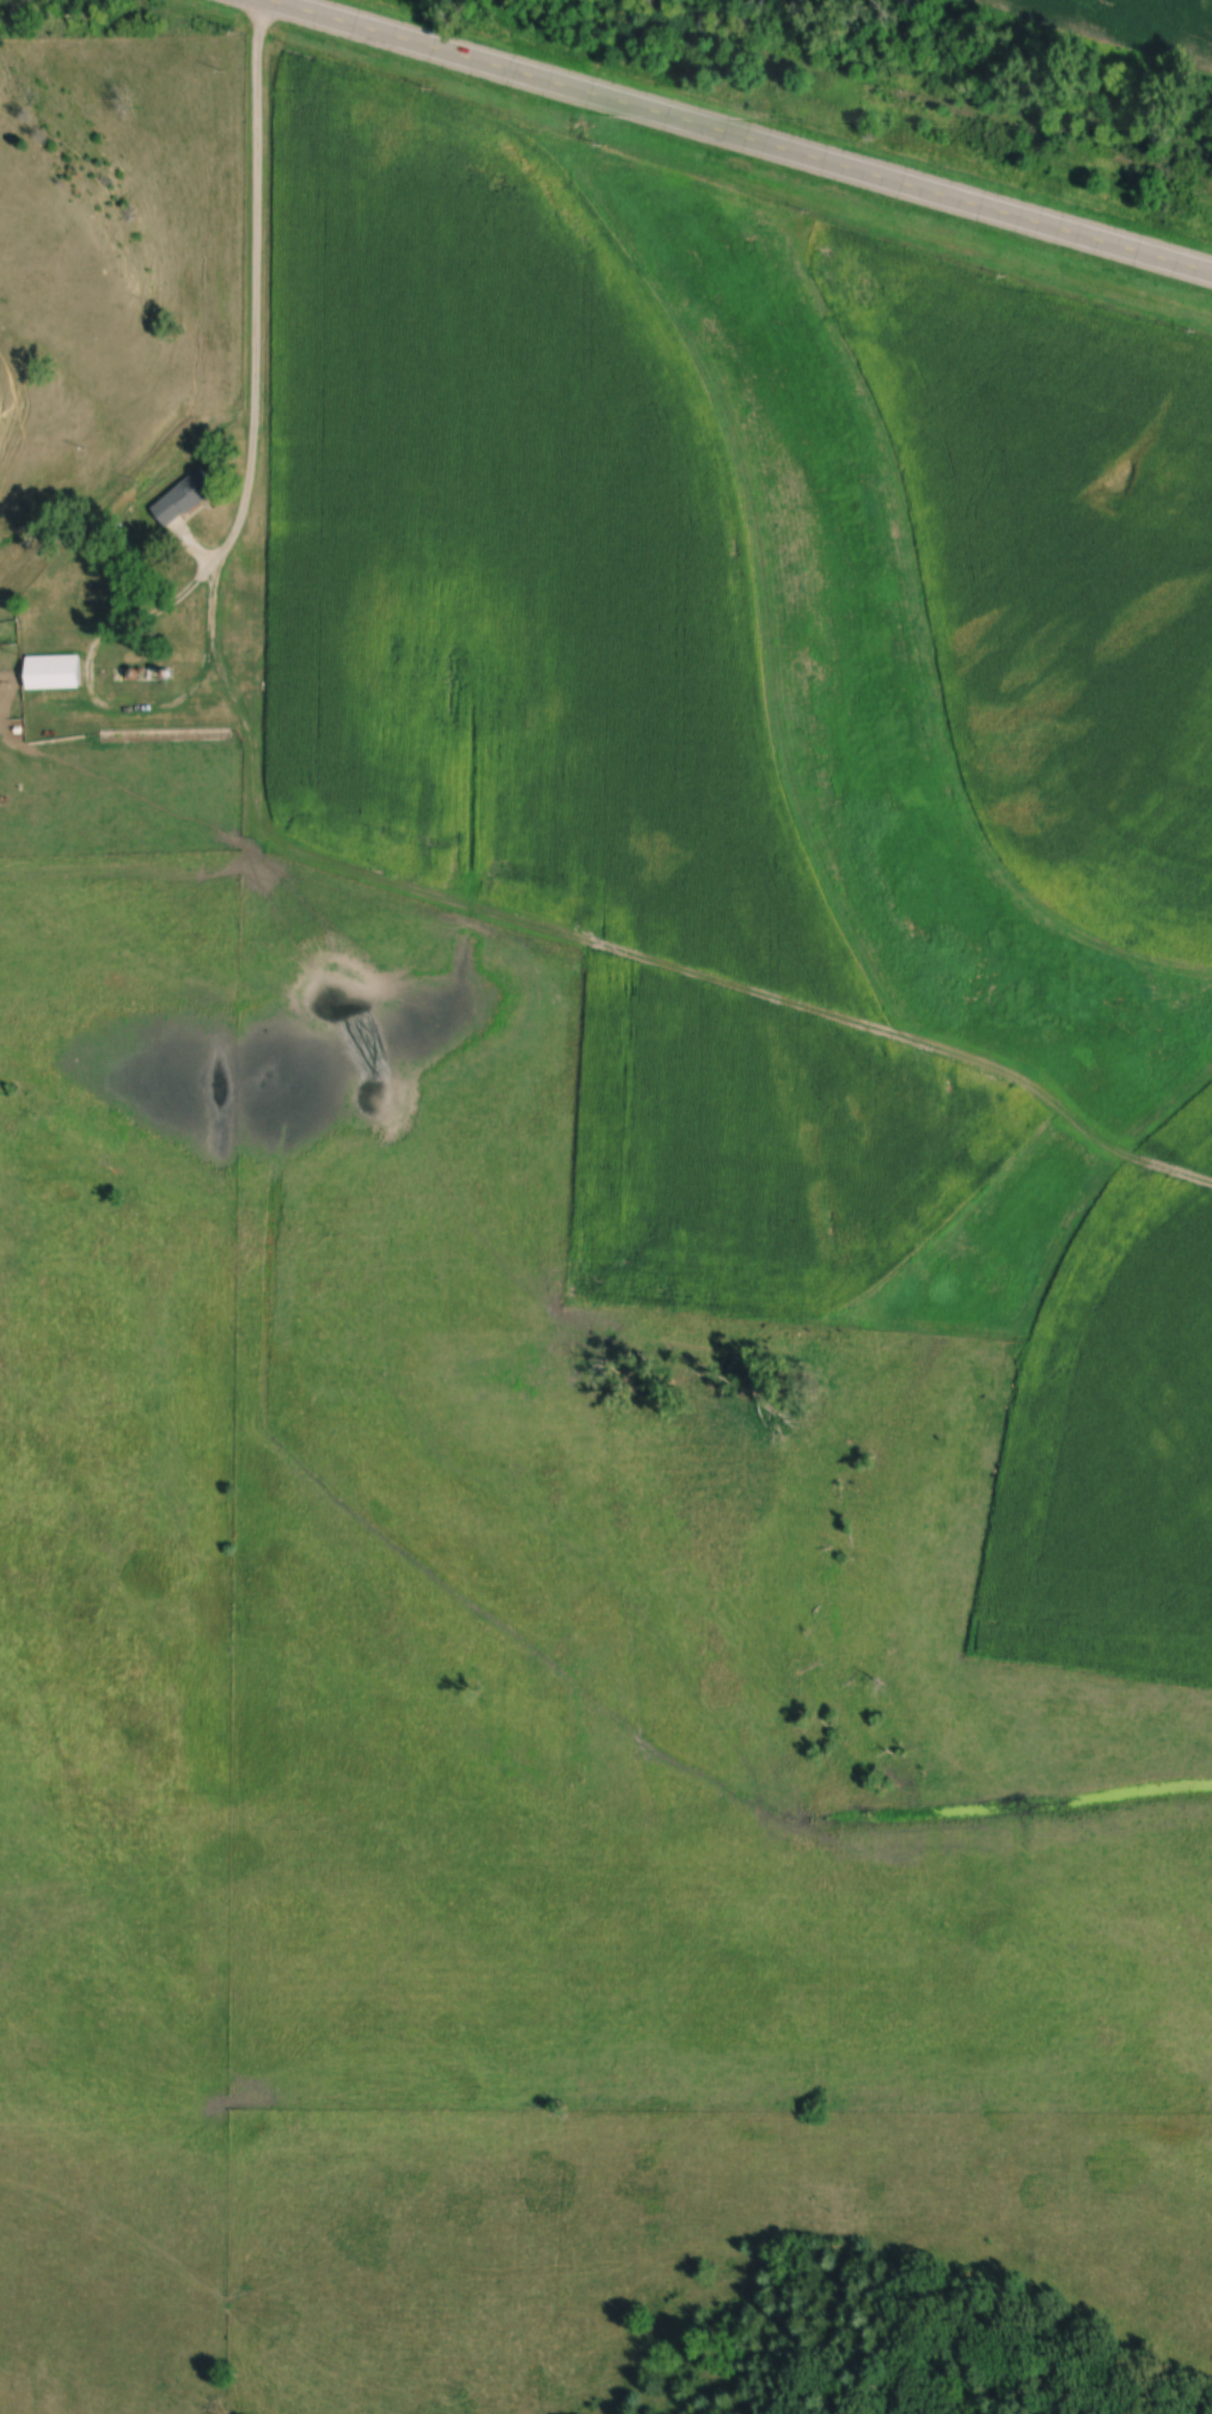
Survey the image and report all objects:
road: (743, 135)
road: (255, 291)
building: (184, 499)
building: (55, 667)

